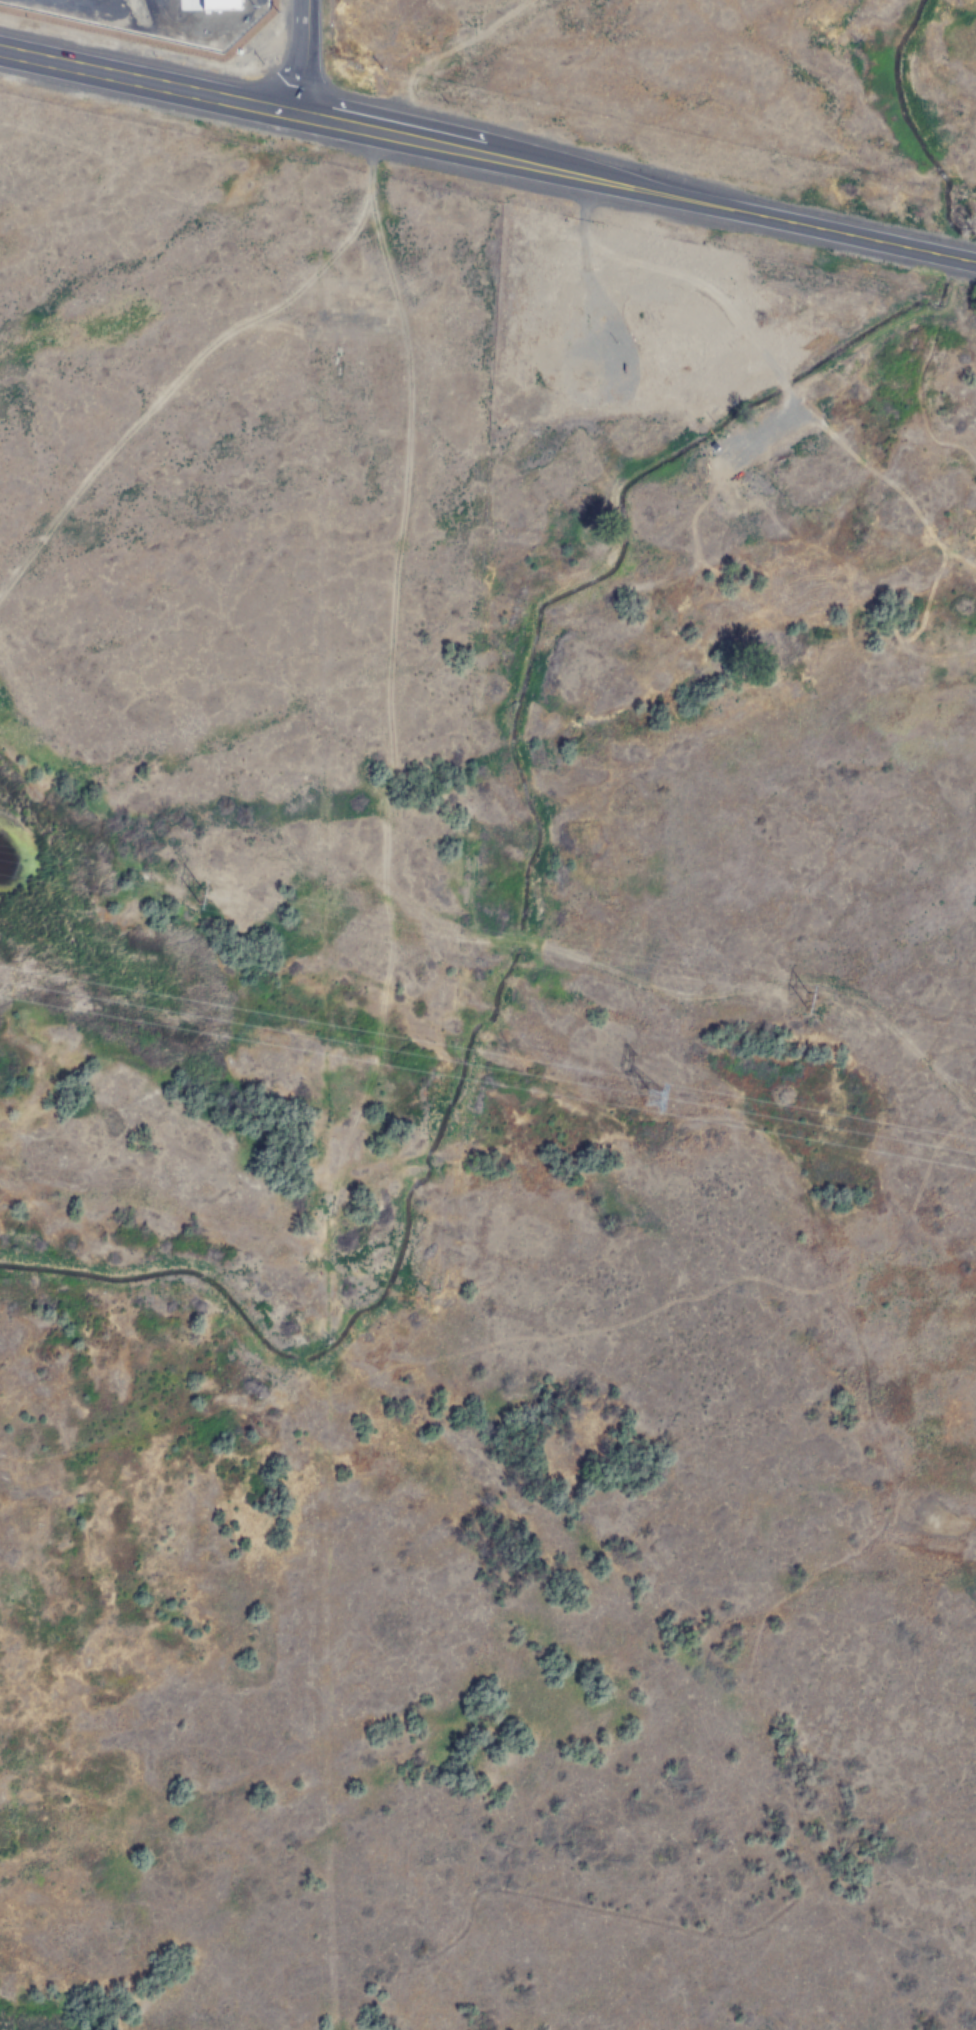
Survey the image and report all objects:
road: (308, 56)
road: (488, 152)
building: (676, 362)
power tower: (655, 1089)

